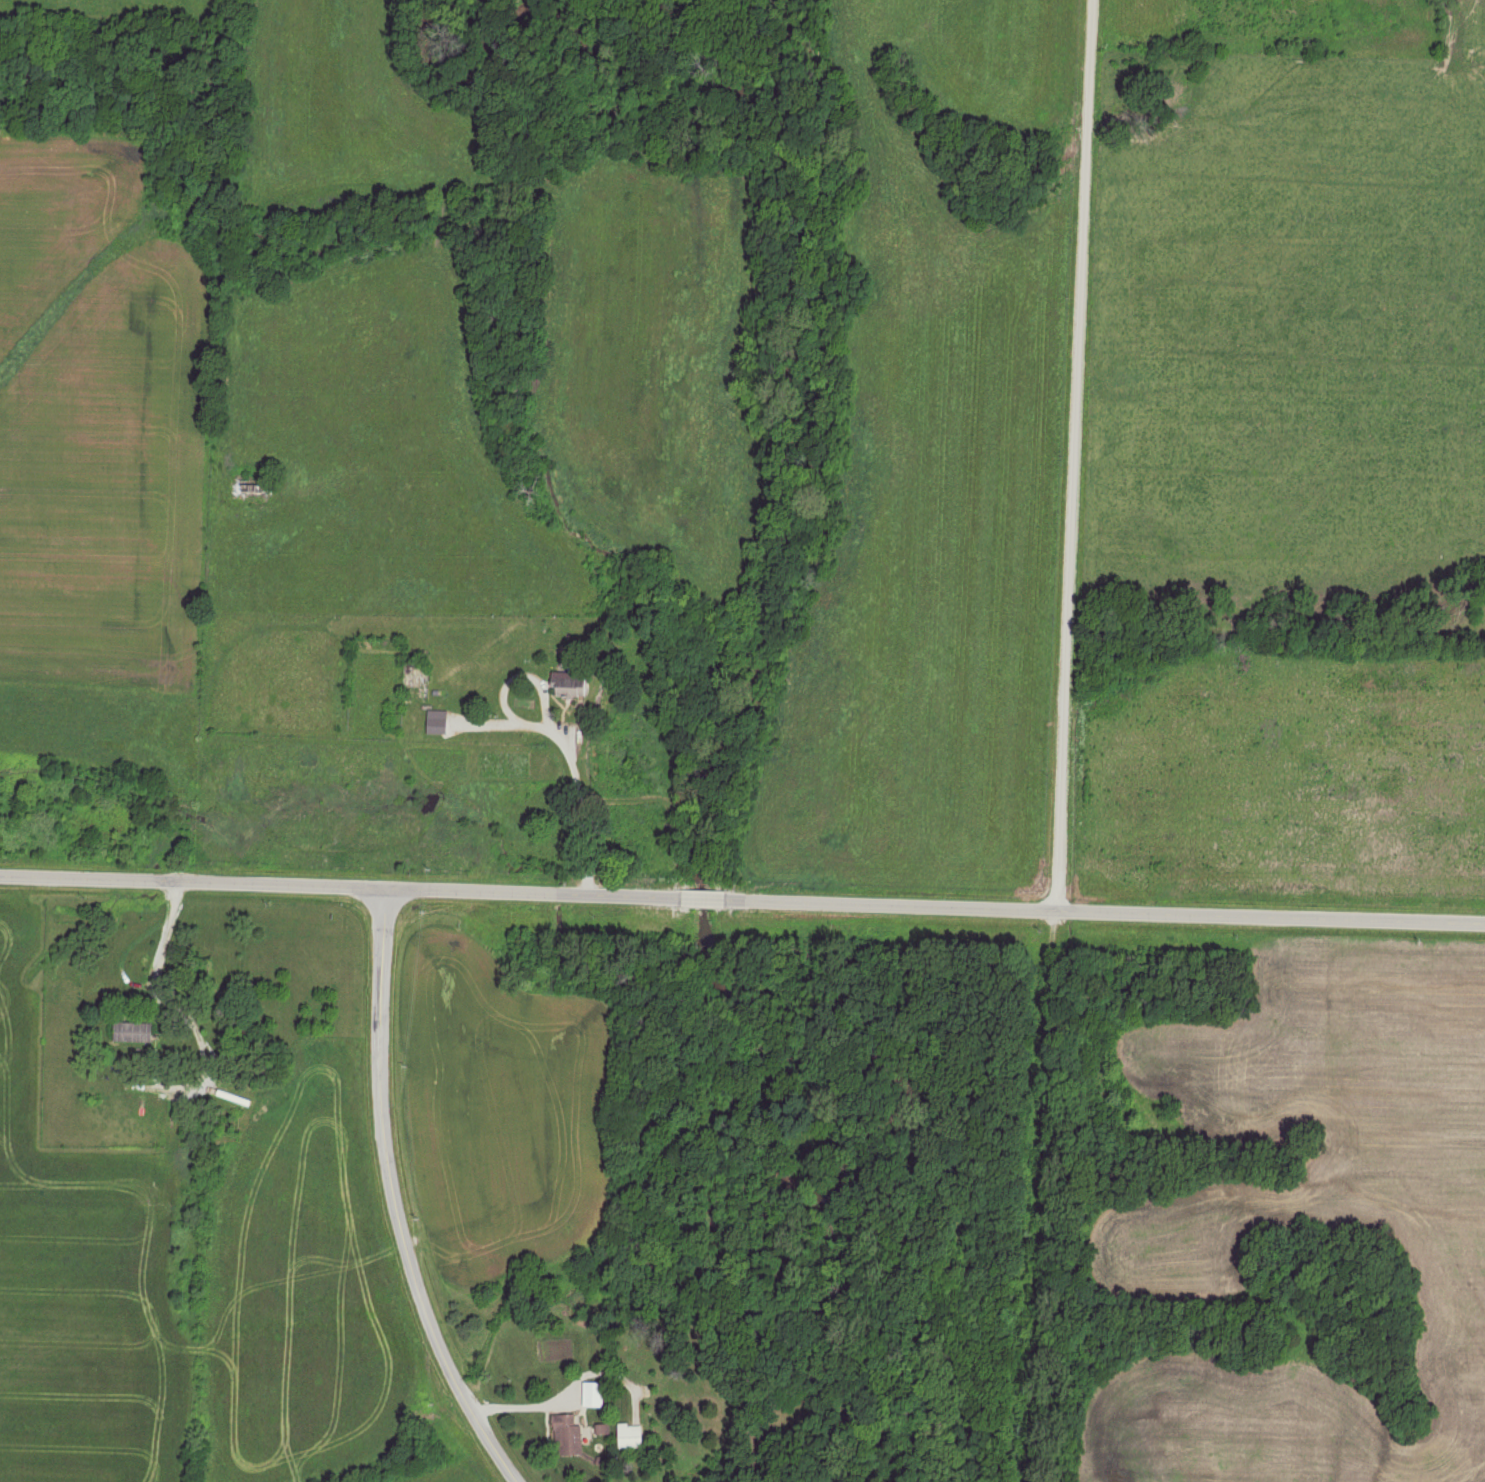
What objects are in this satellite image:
road: (1068, 456)
building: (252, 486)
building: (570, 684)
road: (574, 808)
road: (742, 901)
building: (133, 1033)
road: (394, 1198)
building: (593, 1393)
building: (567, 1433)
building: (630, 1435)

